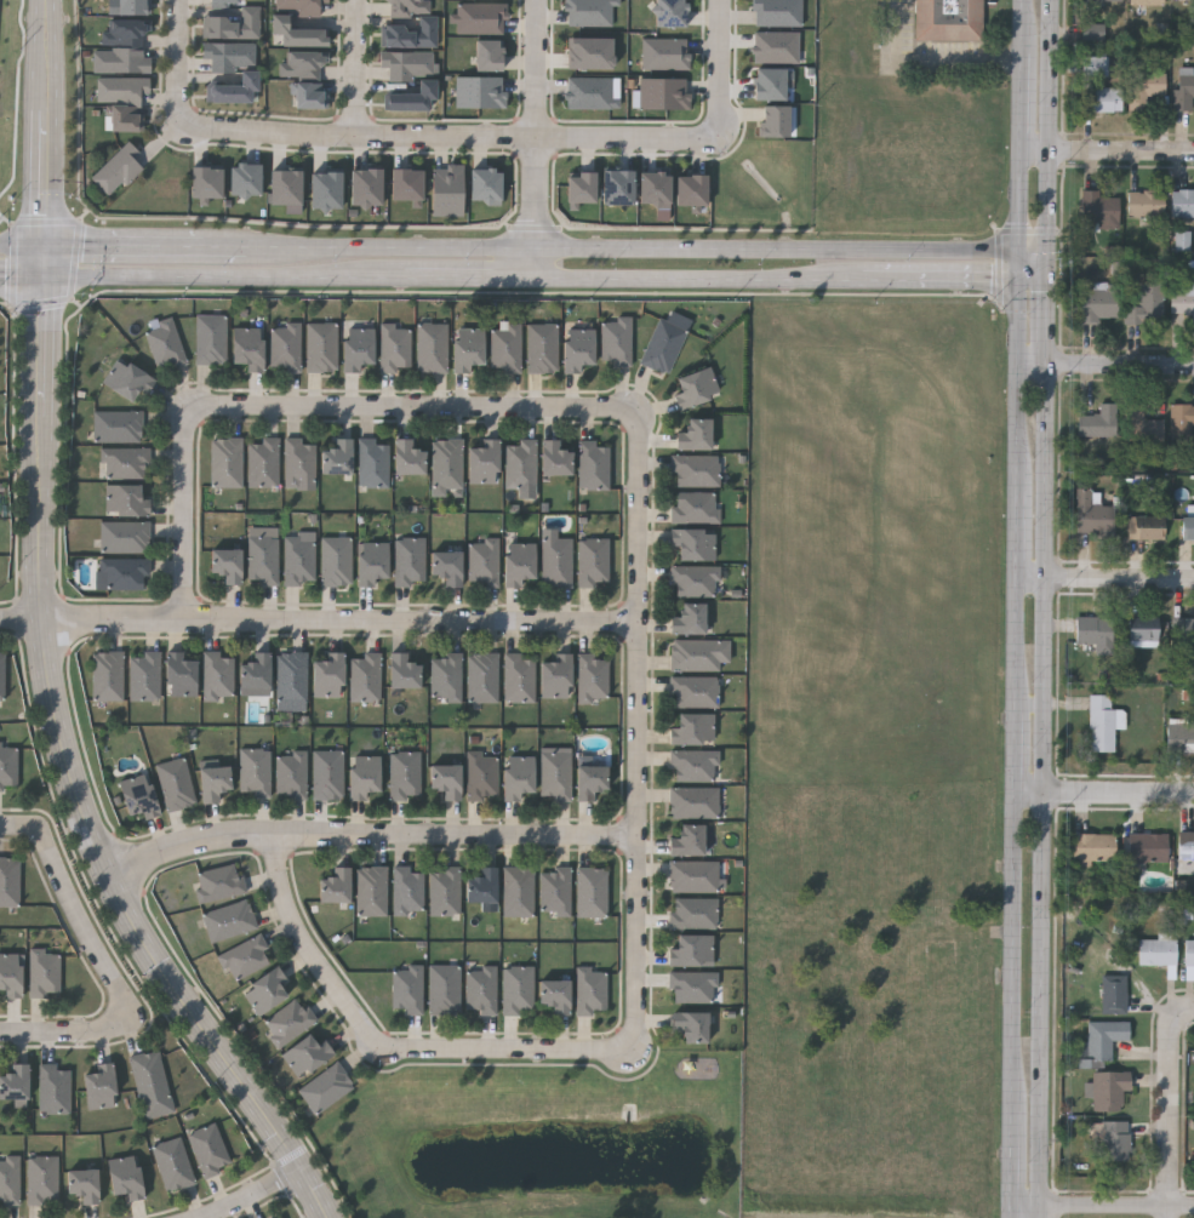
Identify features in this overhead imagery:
building: (1184, 0)
building: (221, 1)
building: (1106, 2)
building: (1148, 2)
building: (302, 6)
building: (133, 7)
building: (592, 12)
building: (779, 12)
building: (672, 13)
building: (480, 18)
building: (950, 19)
building: (233, 23)
building: (410, 24)
road: (1026, 27)
building: (296, 32)
building: (1095, 32)
building: (777, 47)
building: (124, 48)
building: (593, 53)
building: (667, 55)
building: (491, 56)
road: (181, 61)
building: (301, 63)
road: (926, 64)
building: (1096, 68)
road: (356, 69)
road: (719, 70)
building: (248, 76)
building: (773, 84)
building: (425, 85)
building: (124, 88)
building: (1143, 90)
building: (481, 92)
building: (594, 93)
building: (309, 95)
building: (665, 95)
building: (1183, 95)
road: (1024, 102)
building: (1102, 102)
building: (125, 118)
building: (777, 121)
road: (44, 124)
road: (1049, 127)
road: (449, 138)
road: (535, 141)
road: (1108, 150)
building: (119, 168)
building: (247, 181)
building: (208, 185)
building: (409, 187)
building: (487, 187)
building: (367, 188)
building: (619, 188)
building: (288, 190)
building: (327, 190)
building: (582, 190)
building: (656, 190)
building: (693, 190)
building: (450, 191)
road: (1024, 202)
building: (1146, 205)
building: (1183, 206)
building: (1098, 212)
building: (1183, 240)
road: (21, 247)
traffic signals: (42, 247)
road: (122, 248)
road: (224, 250)
road: (635, 252)
traffic signals: (1024, 257)
road: (1035, 257)
traffic signals: (1047, 257)
road: (42, 262)
road: (1024, 270)
road: (1046, 270)
road: (22, 278)
traffic signals: (44, 278)
road: (461, 280)
road: (893, 284)
road: (966, 284)
traffic signals: (1024, 284)
road: (1035, 284)
traffic signals: (1046, 284)
building: (1183, 303)
building: (1101, 304)
building: (1146, 305)
road: (1045, 324)
building: (211, 338)
building: (615, 341)
building: (165, 343)
building: (284, 345)
building: (662, 345)
building: (247, 347)
building: (321, 347)
building: (394, 347)
building: (430, 347)
building: (465, 347)
building: (504, 347)
building: (541, 347)
building: (356, 348)
building: (576, 348)
road: (1032, 364)
road: (1119, 364)
building: (126, 378)
building: (695, 387)
road: (1021, 387)
road: (415, 408)
building: (1182, 423)
building: (1098, 424)
building: (118, 425)
building: (1141, 425)
building: (693, 434)
building: (337, 457)
building: (406, 457)
building: (554, 457)
building: (126, 462)
building: (262, 462)
building: (372, 462)
building: (482, 462)
building: (224, 463)
building: (446, 463)
building: (520, 463)
building: (299, 464)
building: (593, 465)
building: (695, 470)
building: (125, 499)
building: (695, 508)
building: (1190, 510)
road: (185, 514)
building: (1092, 516)
building: (1188, 530)
building: (1147, 531)
road: (1019, 534)
building: (124, 537)
building: (692, 543)
building: (262, 559)
building: (298, 560)
building: (335, 561)
building: (409, 561)
building: (593, 561)
building: (371, 562)
building: (482, 562)
building: (518, 562)
building: (556, 562)
building: (225, 564)
building: (447, 567)
building: (122, 574)
road: (1107, 577)
building: (693, 581)
road: (22, 617)
building: (687, 618)
road: (339, 621)
building: (1143, 634)
building: (1096, 635)
building: (1183, 635)
road: (1018, 644)
building: (693, 654)
building: (256, 670)
building: (402, 671)
building: (179, 674)
building: (1, 675)
building: (217, 675)
building: (327, 675)
building: (445, 675)
building: (554, 675)
building: (107, 676)
building: (144, 676)
building: (290, 676)
building: (590, 676)
building: (364, 677)
building: (482, 677)
building: (518, 679)
building: (693, 691)
building: (1103, 725)
building: (691, 727)
road: (636, 731)
building: (1179, 740)
road: (1017, 750)
building: (693, 765)
building: (7, 766)
building: (253, 771)
building: (290, 774)
building: (327, 774)
building: (362, 774)
building: (404, 774)
building: (480, 774)
building: (516, 776)
building: (554, 776)
road: (74, 779)
building: (445, 779)
building: (588, 780)
building: (212, 783)
building: (175, 784)
road: (1042, 785)
road: (1106, 791)
building: (137, 795)
building: (693, 802)
road: (18, 824)
road: (370, 836)
building: (685, 839)
building: (1093, 850)
building: (1148, 850)
building: (1186, 854)
building: (693, 876)
building: (8, 881)
building: (219, 882)
building: (481, 885)
building: (335, 886)
building: (406, 888)
building: (370, 891)
building: (444, 891)
building: (516, 891)
building: (554, 891)
building: (589, 892)
building: (692, 913)
road: (79, 920)
building: (229, 920)
building: (690, 949)
road: (1012, 953)
building: (1158, 954)
building: (1189, 954)
building: (245, 959)
building: (44, 973)
building: (10, 974)
building: (691, 987)
building: (406, 989)
building: (444, 989)
building: (480, 989)
building: (265, 990)
building: (516, 990)
building: (589, 991)
building: (554, 995)
building: (1114, 996)
building: (287, 1022)
building: (690, 1025)
road: (69, 1033)
building: (1104, 1041)
road: (382, 1048)
building: (305, 1054)
building: (148, 1076)
building: (13, 1082)
building: (98, 1087)
building: (325, 1088)
building: (53, 1090)
building: (1109, 1091)
road: (1172, 1100)
building: (1114, 1144)
building: (208, 1150)
road: (1007, 1160)
building: (172, 1163)
building: (124, 1177)
building: (10, 1179)
building: (41, 1179)
building: (82, 1184)
road: (253, 1196)
road: (1021, 1206)
road: (1114, 1206)
road: (1006, 1212)
road: (1036, 1212)
road: (1171, 1212)
building: (280, 1217)
building: (284, 1217)

